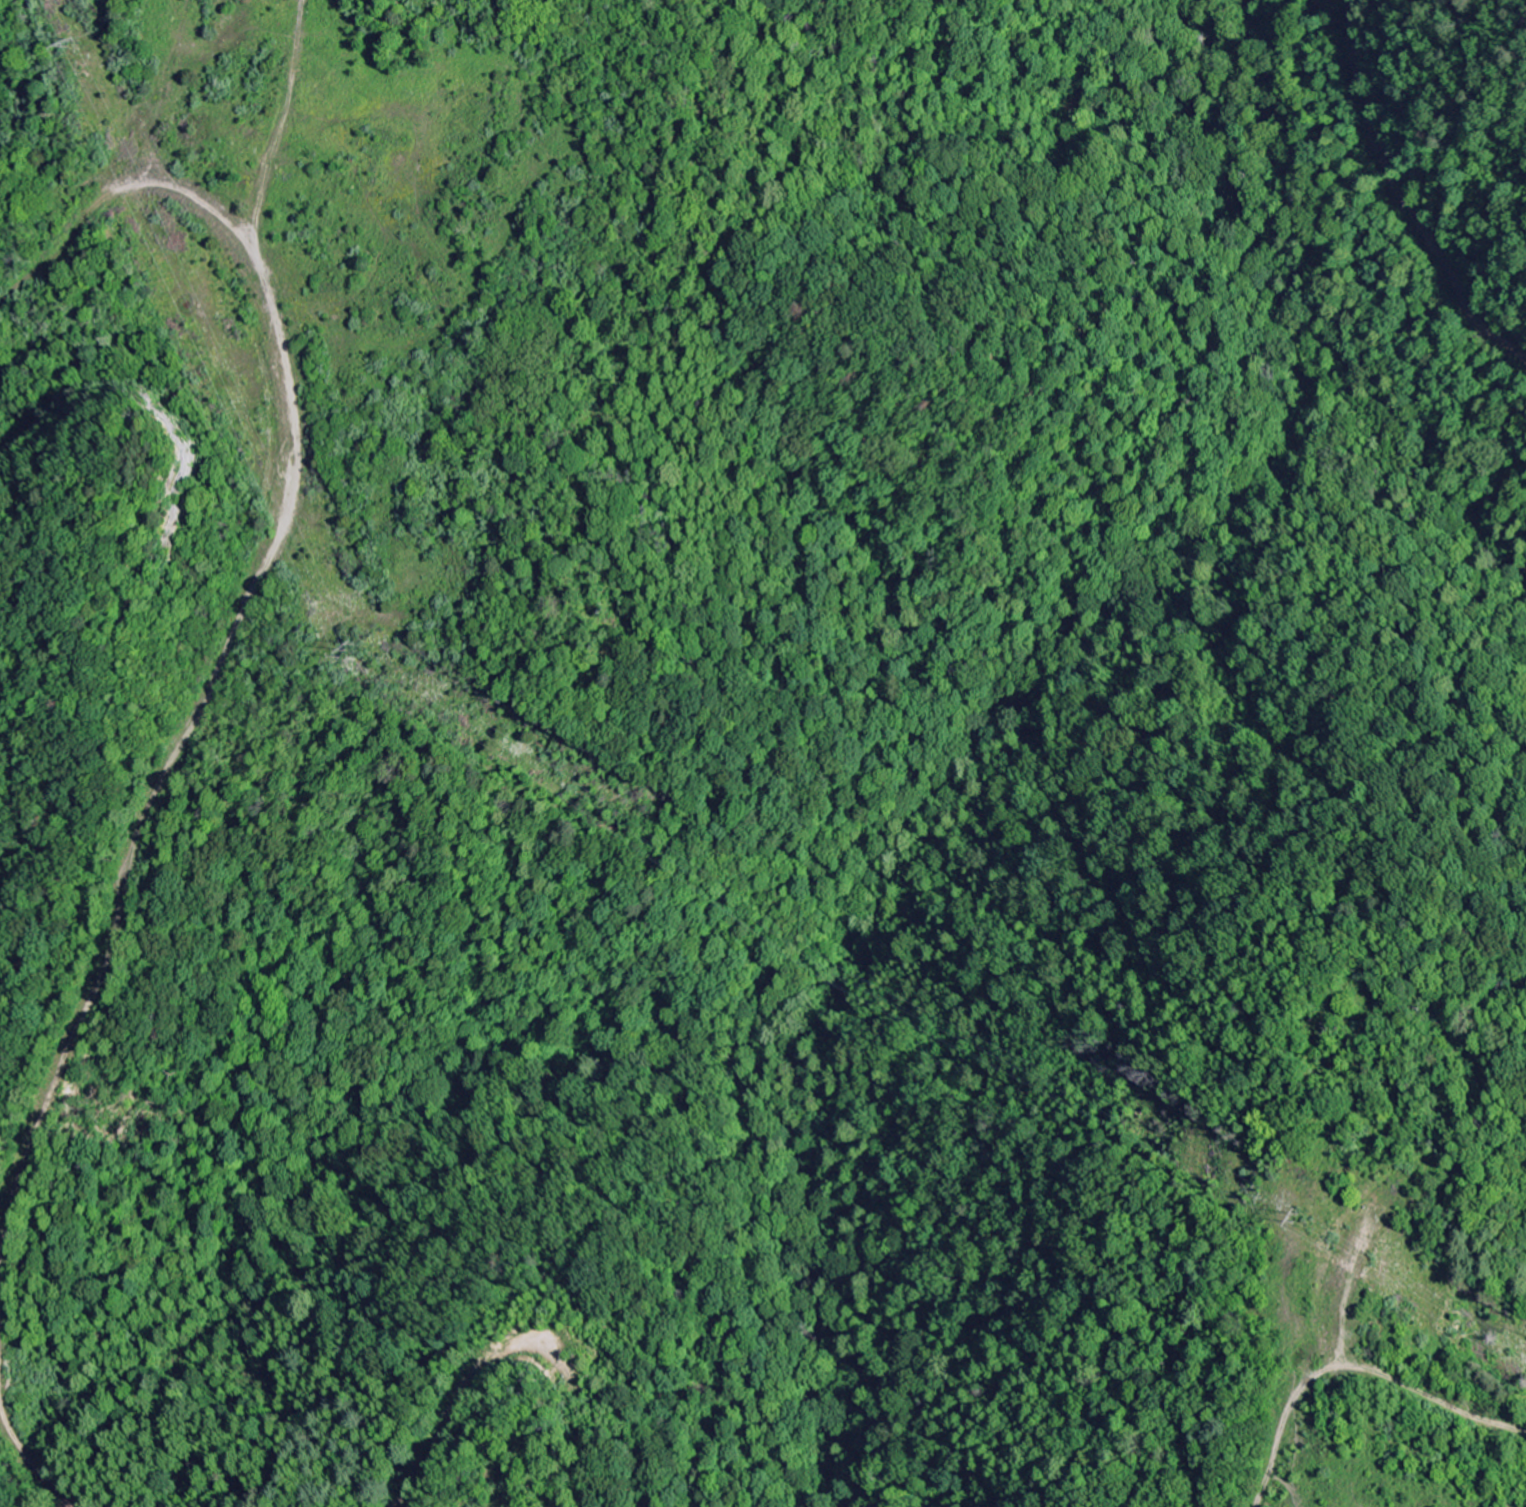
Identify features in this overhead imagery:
road: (158, 392)

